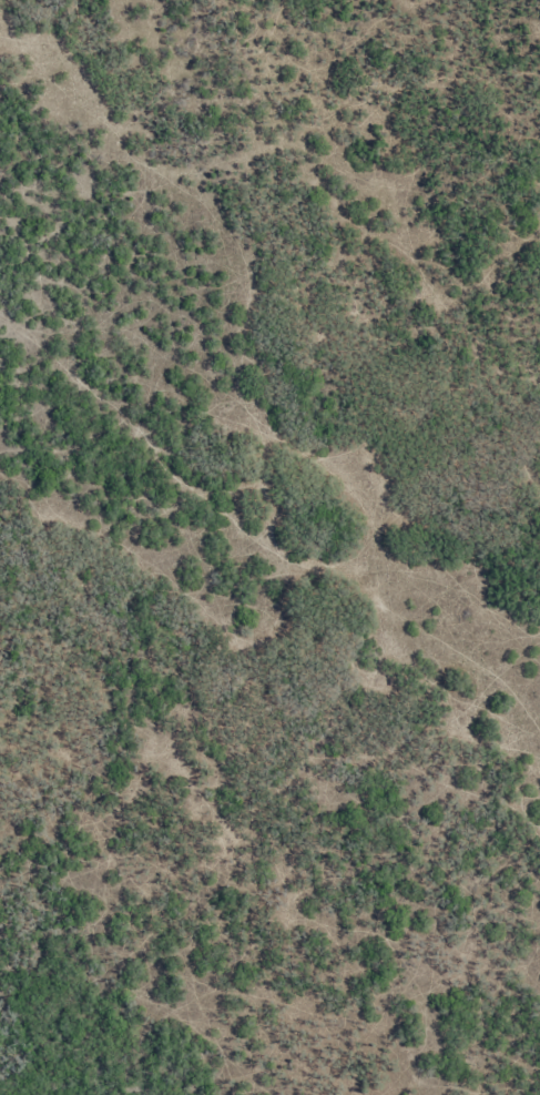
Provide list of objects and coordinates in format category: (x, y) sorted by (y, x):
road: (11, 1089)

